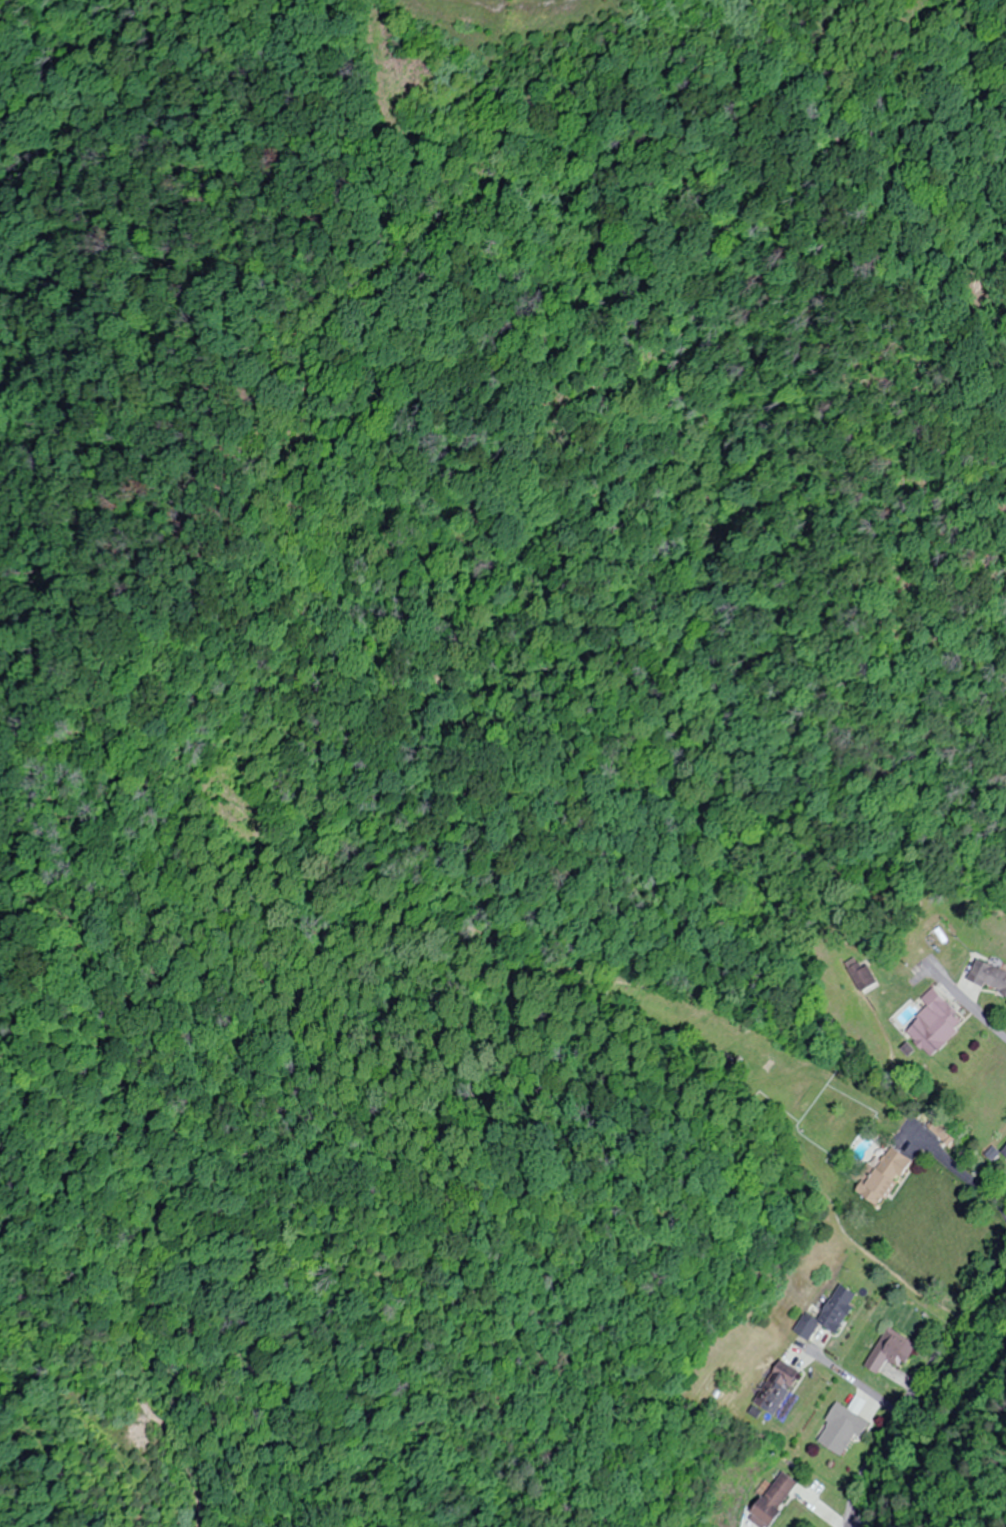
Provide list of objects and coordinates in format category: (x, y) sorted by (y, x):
building: (862, 977)
building: (987, 978)
building: (934, 1024)
building: (1004, 1152)
building: (882, 1176)
building: (827, 1313)
building: (891, 1351)
building: (776, 1387)
building: (842, 1429)
road: (956, 1438)
building: (773, 1500)

